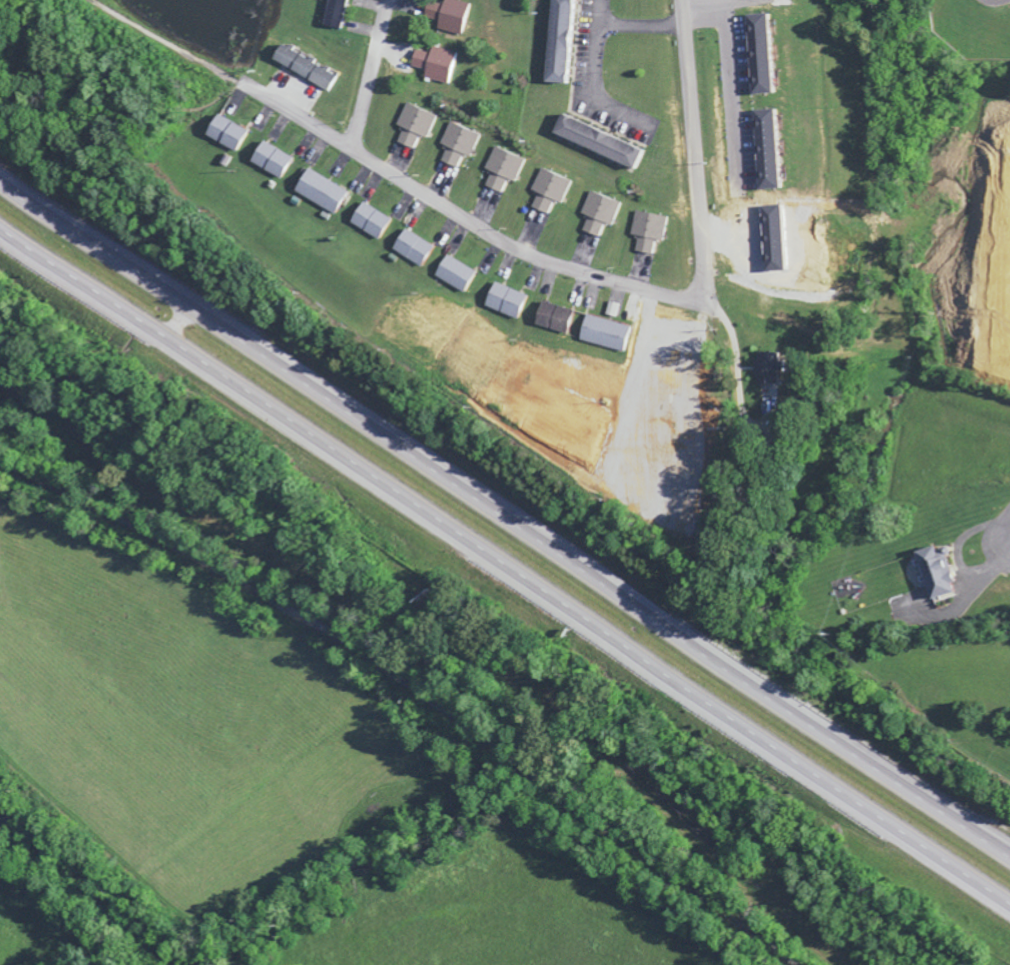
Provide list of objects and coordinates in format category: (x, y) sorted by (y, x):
building: (336, 14)
building: (449, 18)
building: (565, 42)
road: (169, 43)
building: (767, 56)
building: (436, 67)
building: (306, 70)
road: (369, 74)
building: (414, 127)
building: (228, 136)
building: (603, 143)
building: (458, 146)
road: (695, 152)
building: (773, 152)
building: (273, 162)
building: (503, 171)
building: (550, 192)
building: (322, 194)
building: (770, 214)
building: (599, 215)
road: (464, 219)
building: (372, 224)
building: (647, 233)
building: (415, 251)
building: (457, 276)
building: (507, 304)
building: (612, 312)
building: (557, 320)
building: (608, 336)
building: (773, 372)
road: (505, 517)
road: (505, 564)
building: (939, 575)
park: (983, 683)
road: (411, 687)

